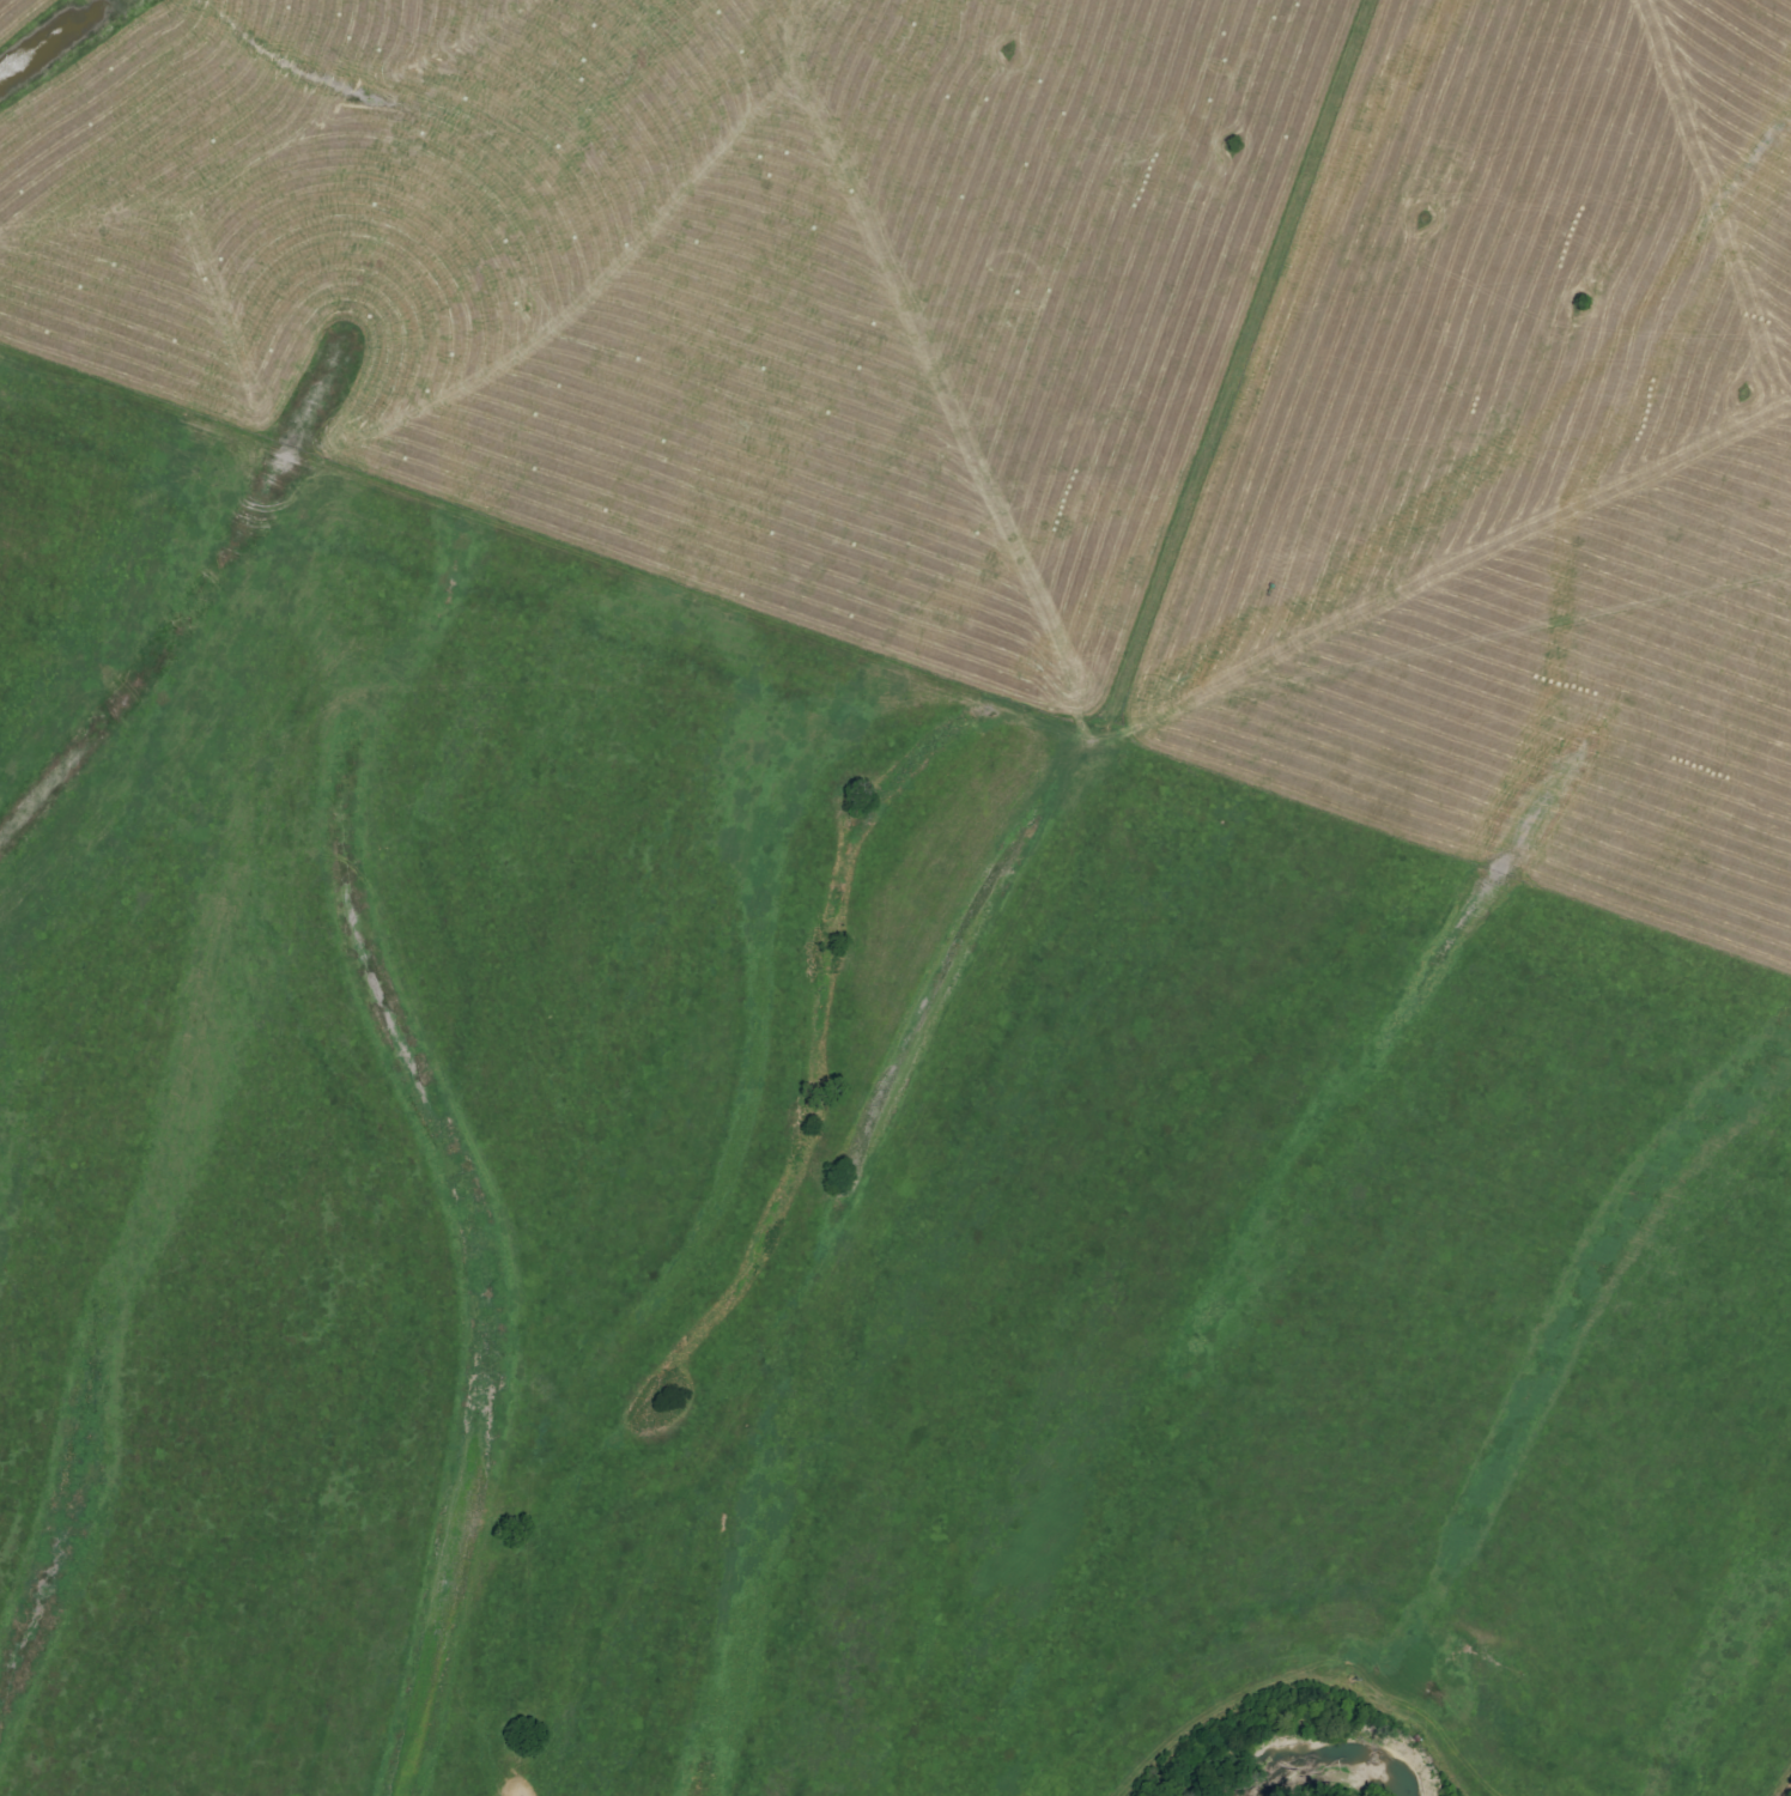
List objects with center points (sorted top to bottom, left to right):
river: (1292, 1773)

